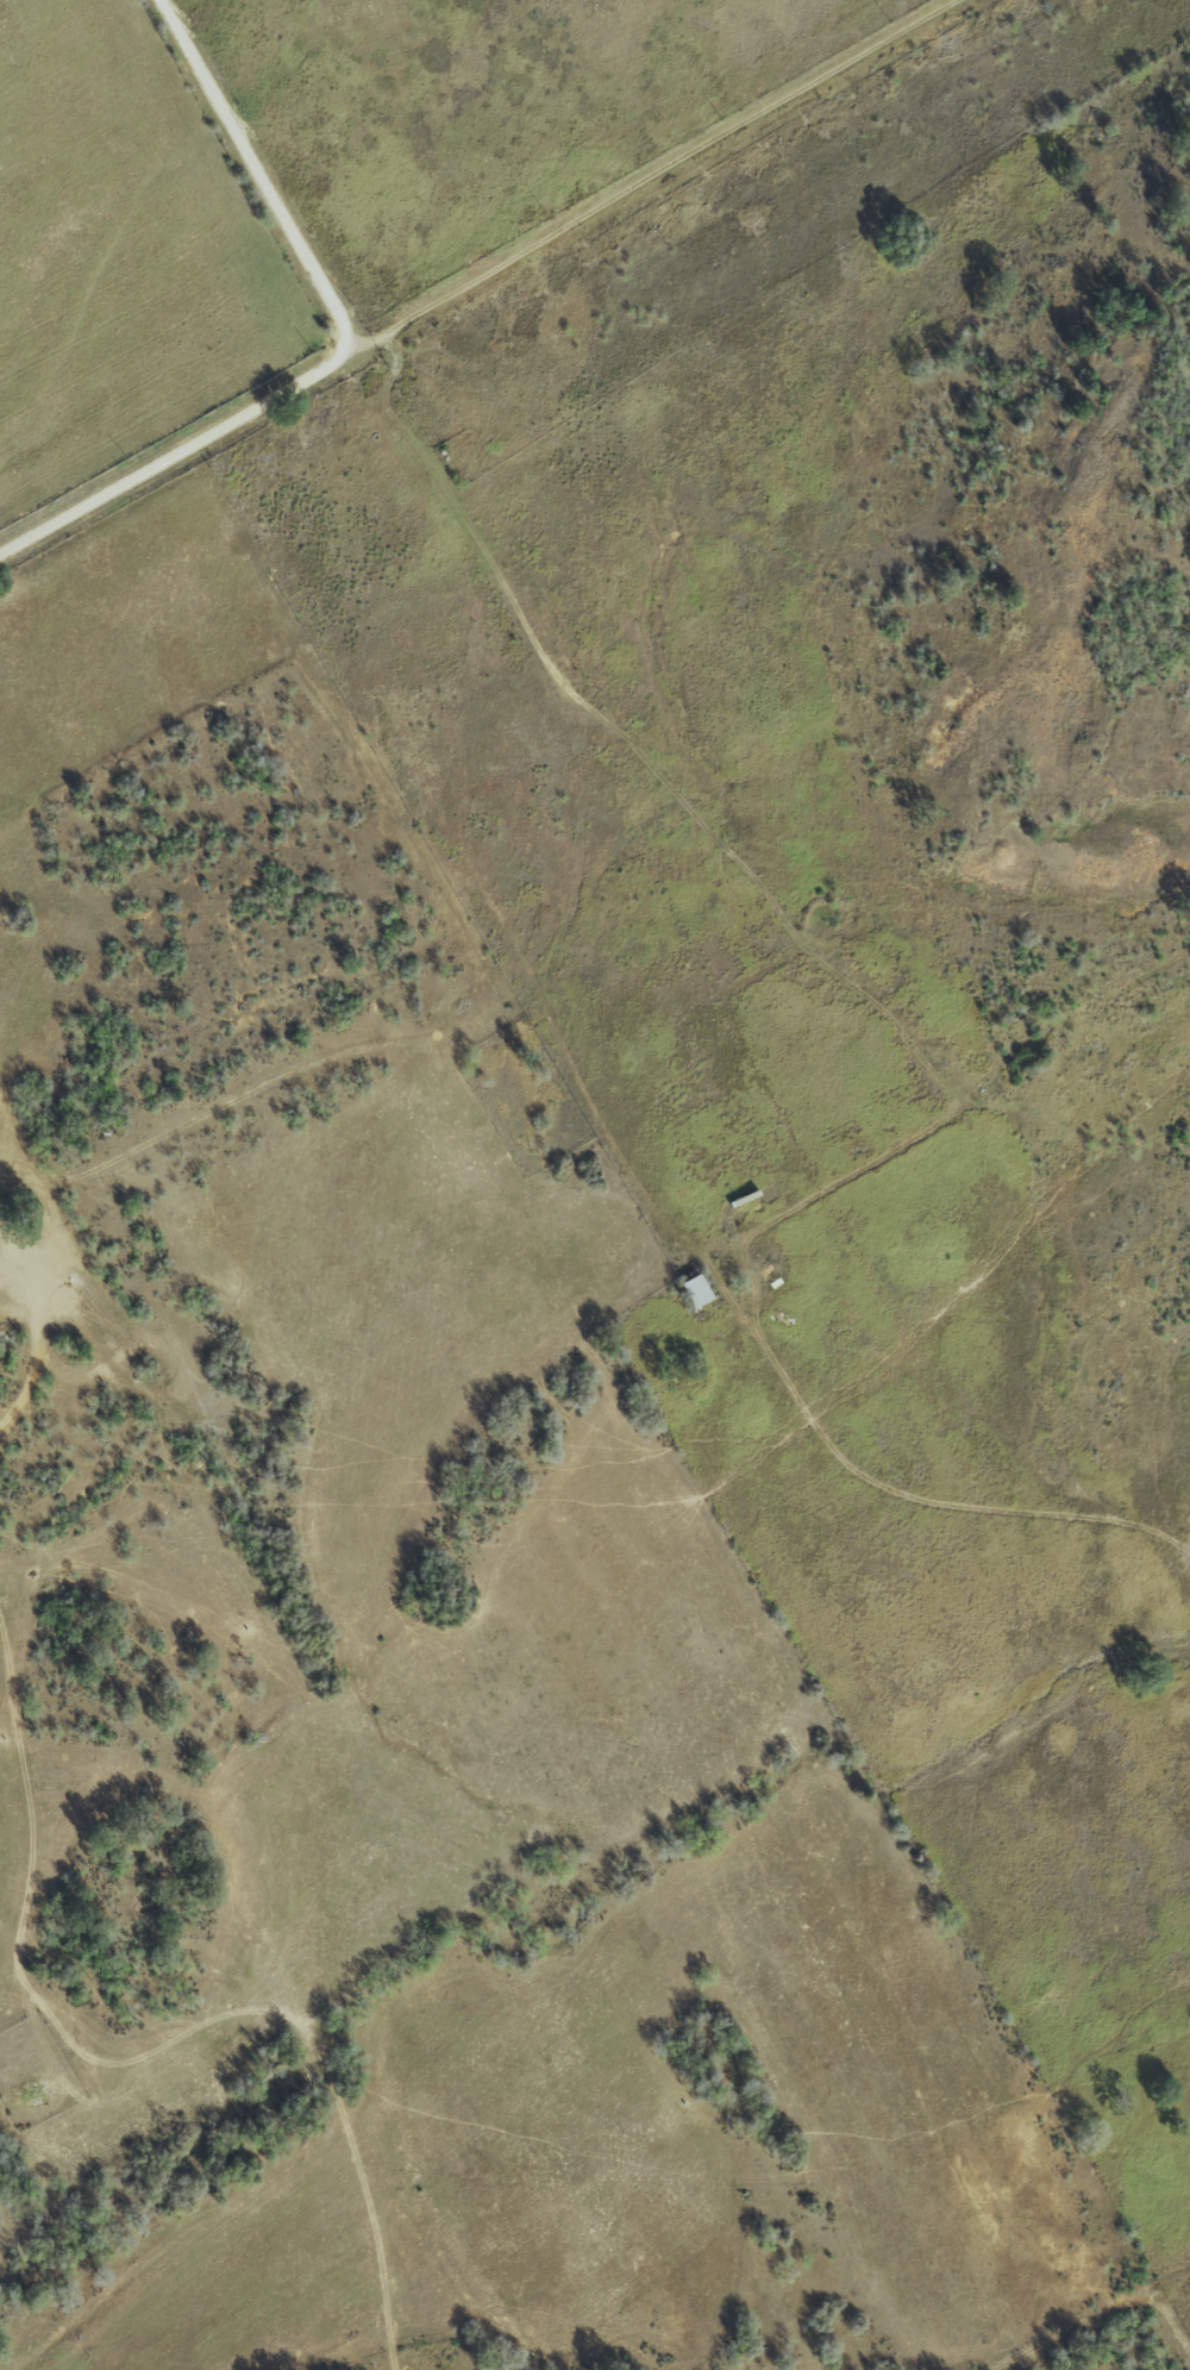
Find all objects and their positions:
road: (249, 169)
road: (177, 454)
park: (520, 1096)

